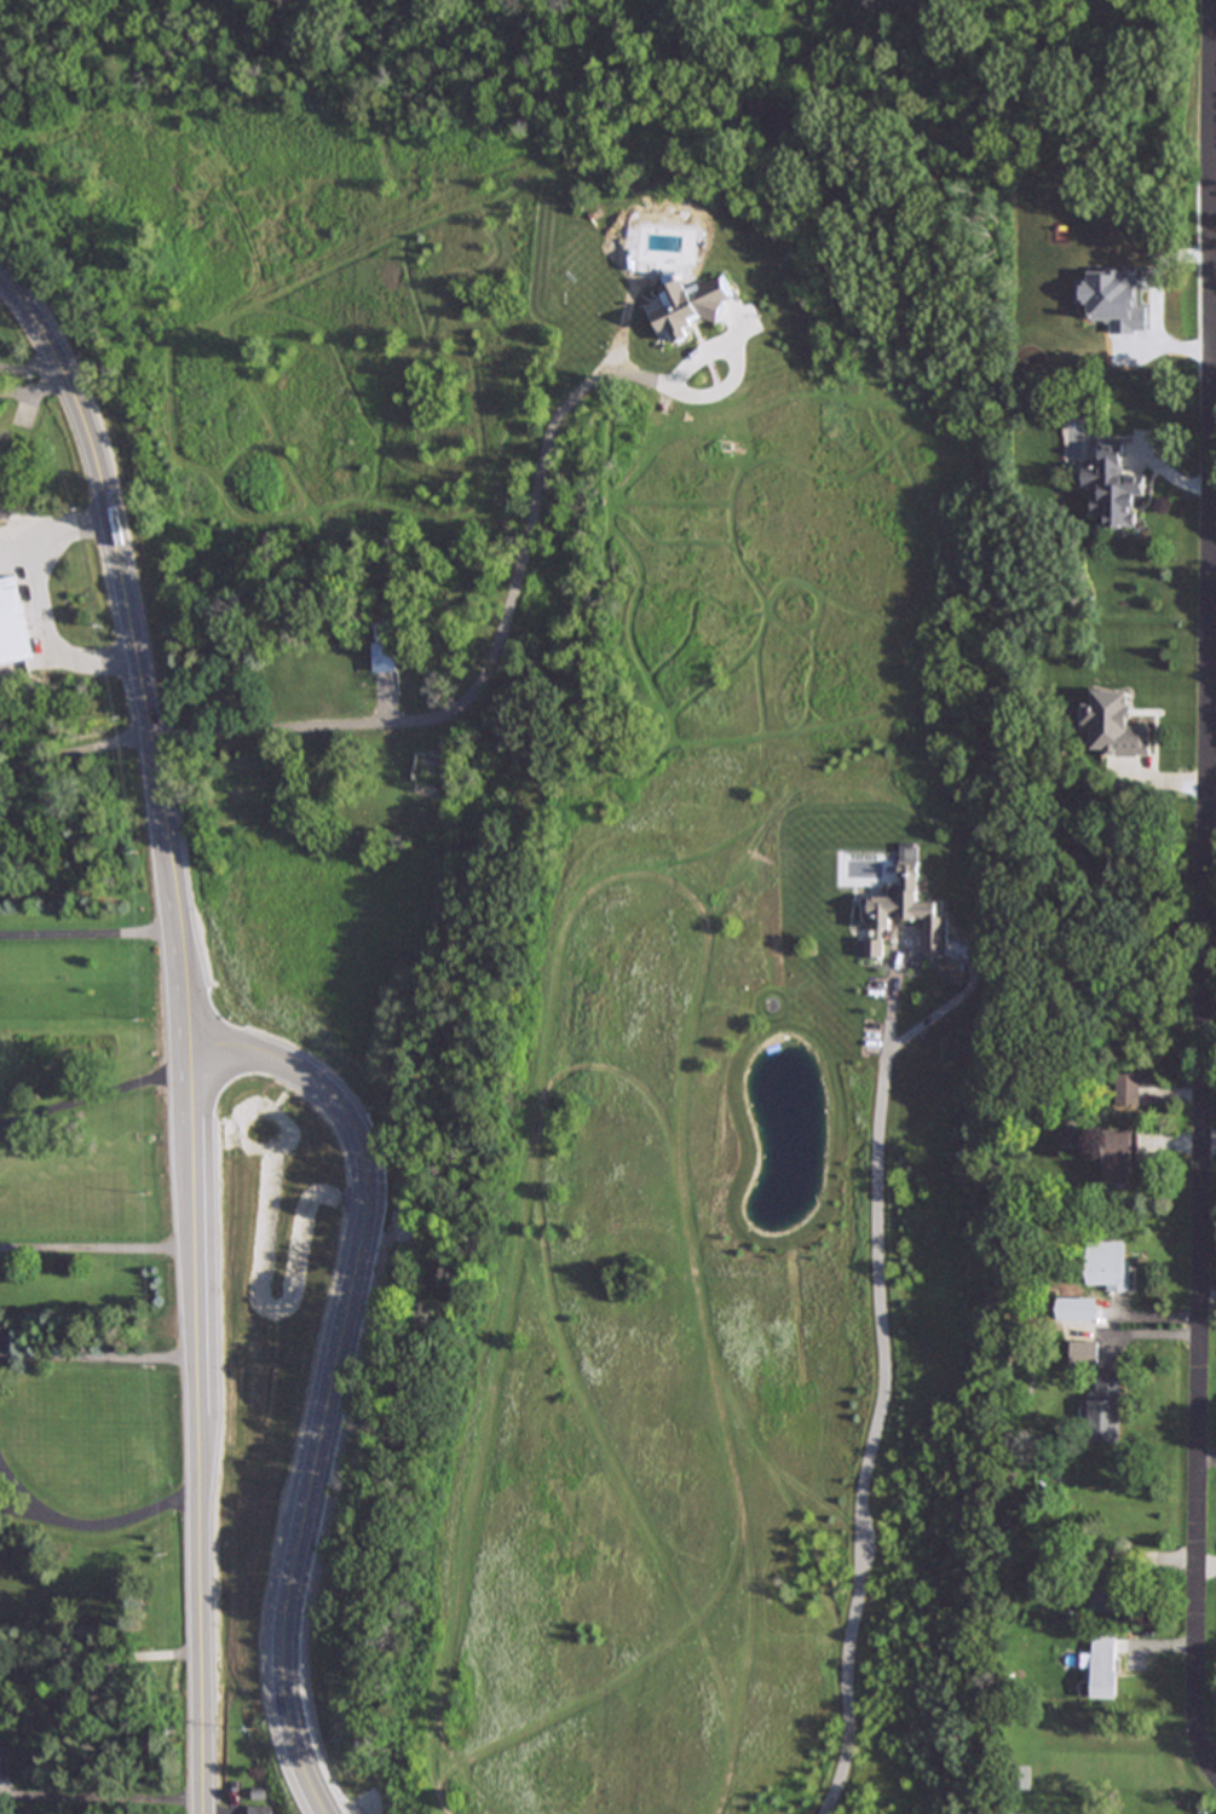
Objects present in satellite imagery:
road: (31, 380)
building: (1112, 485)
road: (39, 514)
road: (1212, 520)
road: (36, 601)
building: (12, 622)
building: (384, 655)
building: (305, 669)
building: (1114, 724)
building: (428, 768)
building: (374, 791)
building: (353, 823)
road: (1205, 889)
road: (91, 941)
road: (186, 1029)
building: (1126, 1092)
road: (93, 1094)
building: (1118, 1157)
road: (97, 1262)
building: (1107, 1265)
road: (97, 1353)
road: (328, 1372)
road: (887, 1383)
building: (1103, 1411)
road: (91, 1521)
road: (1209, 1567)
building: (1105, 1597)
building: (1105, 1665)
road: (99, 1671)
building: (329, 1693)
building: (1020, 1776)
road: (100, 1809)

